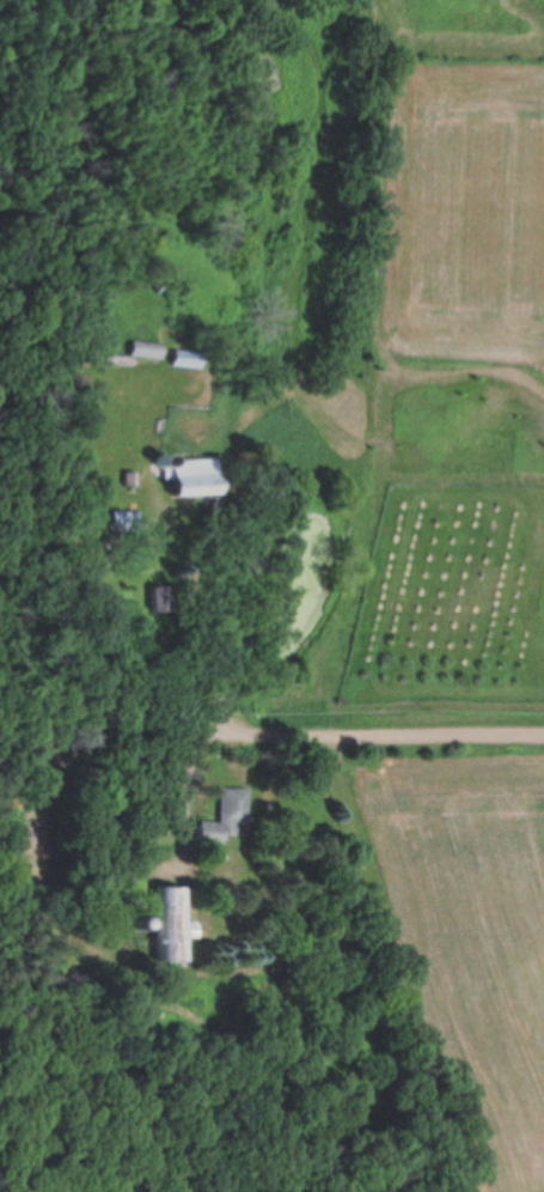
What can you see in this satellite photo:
road: (384, 737)

